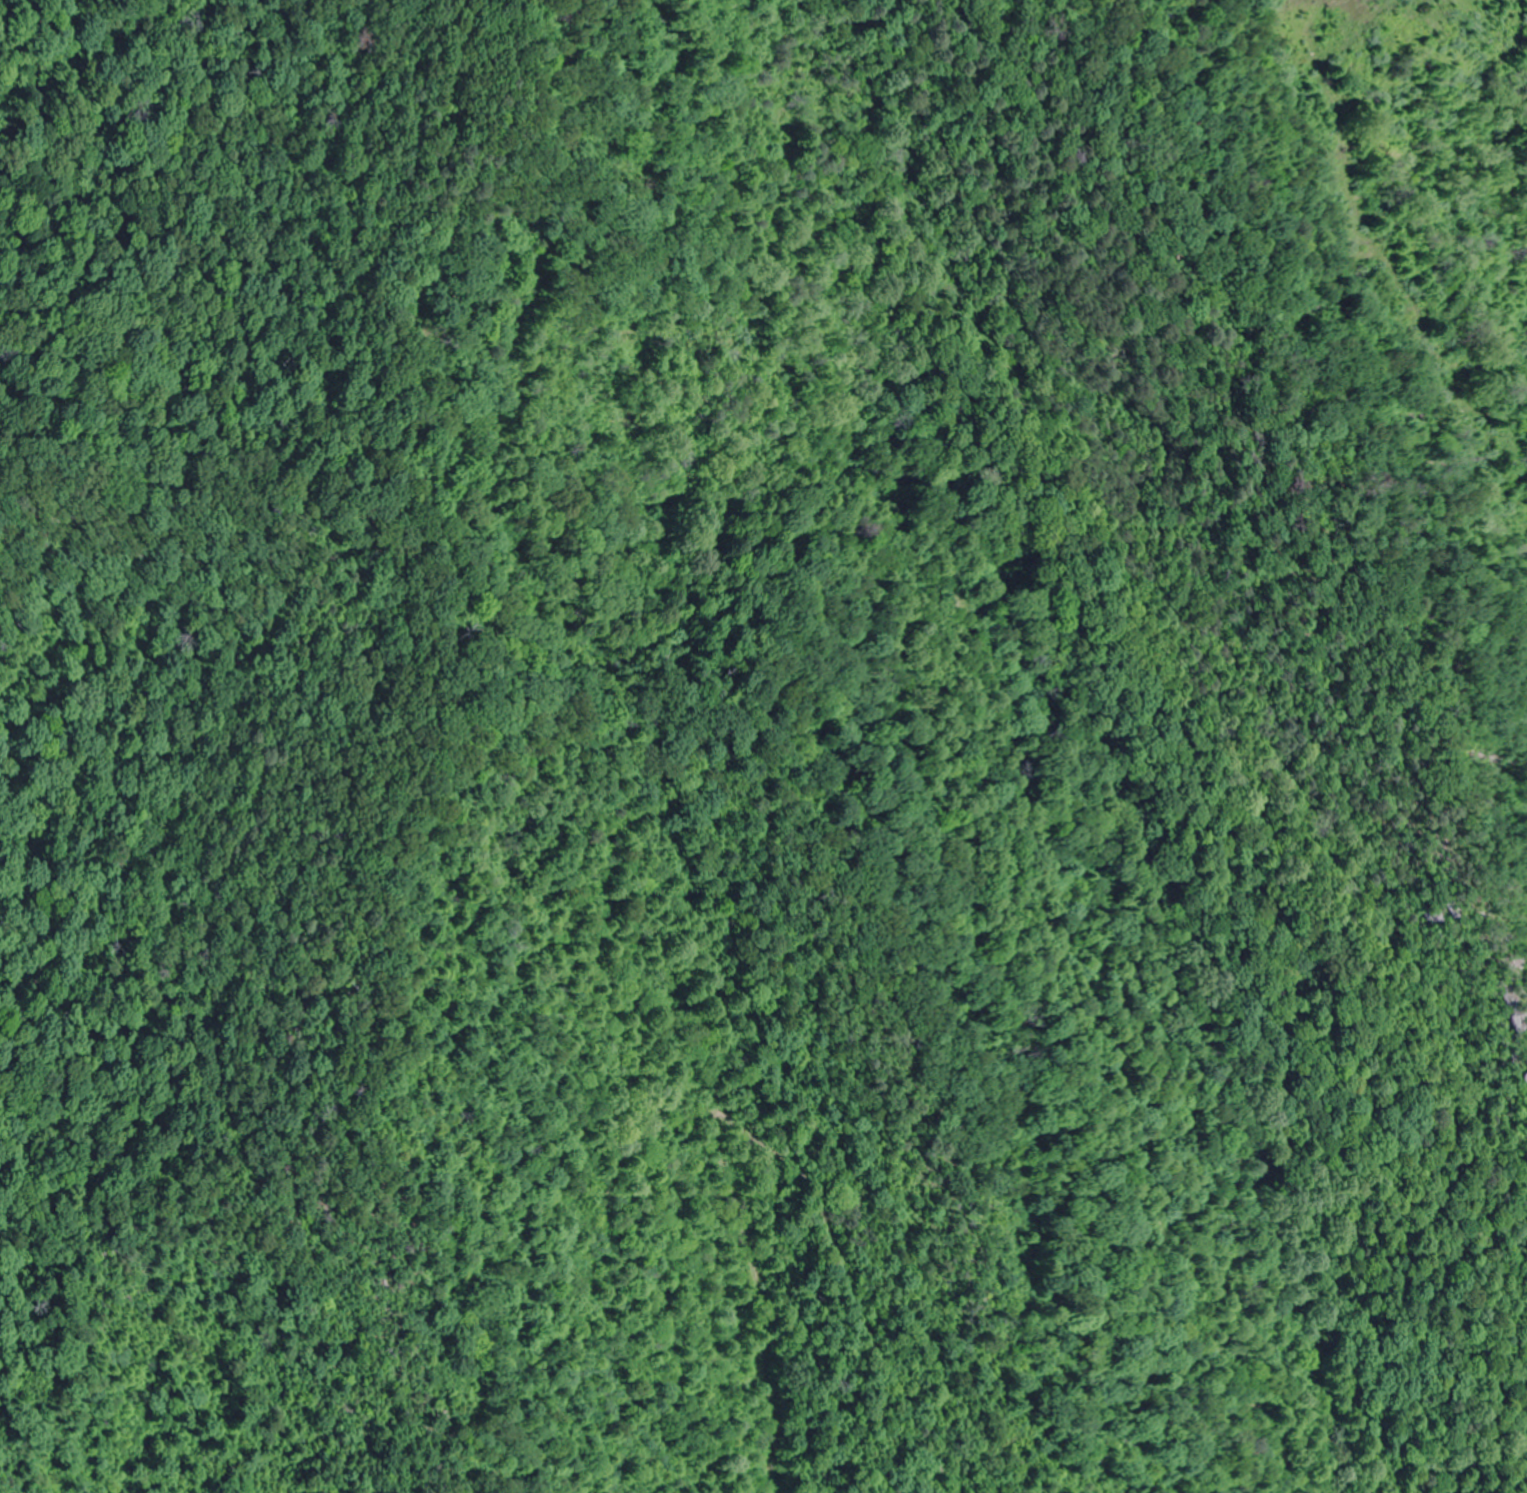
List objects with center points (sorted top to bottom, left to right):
road: (157, 708)

